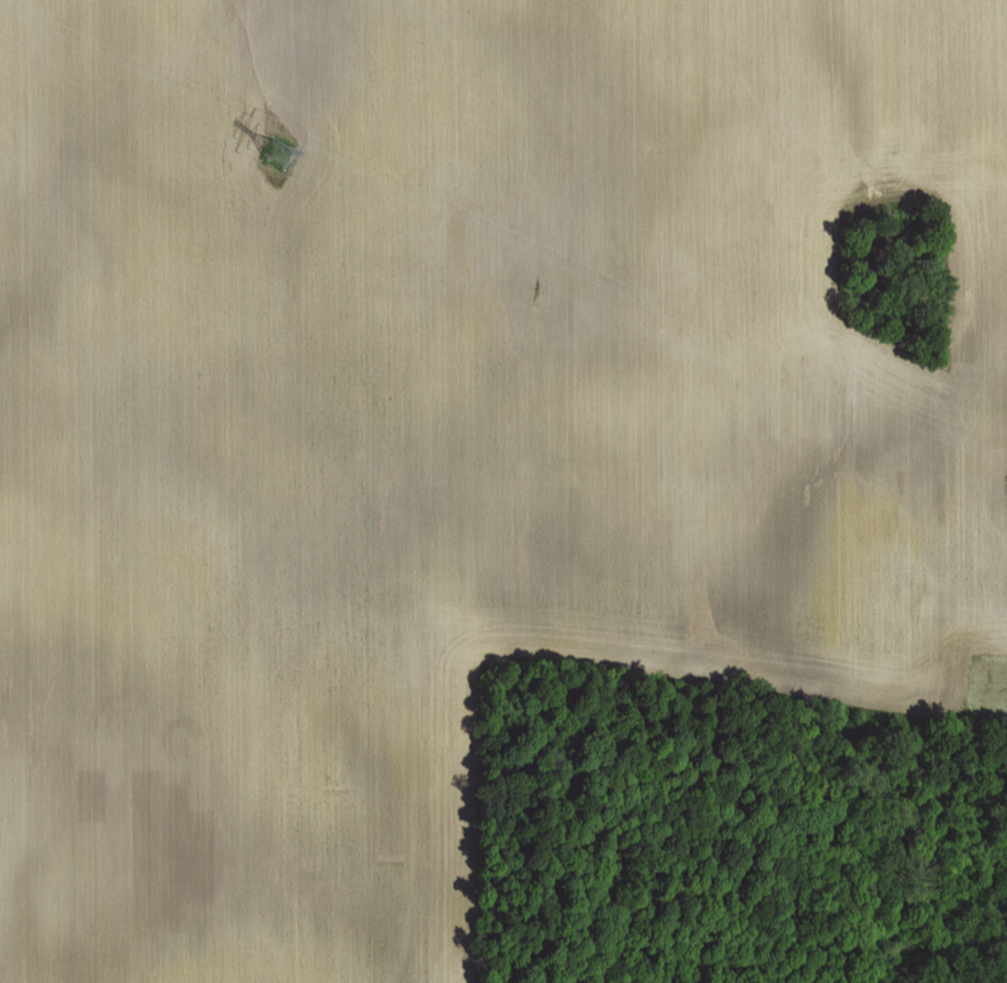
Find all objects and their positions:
power tower: (277, 154)

